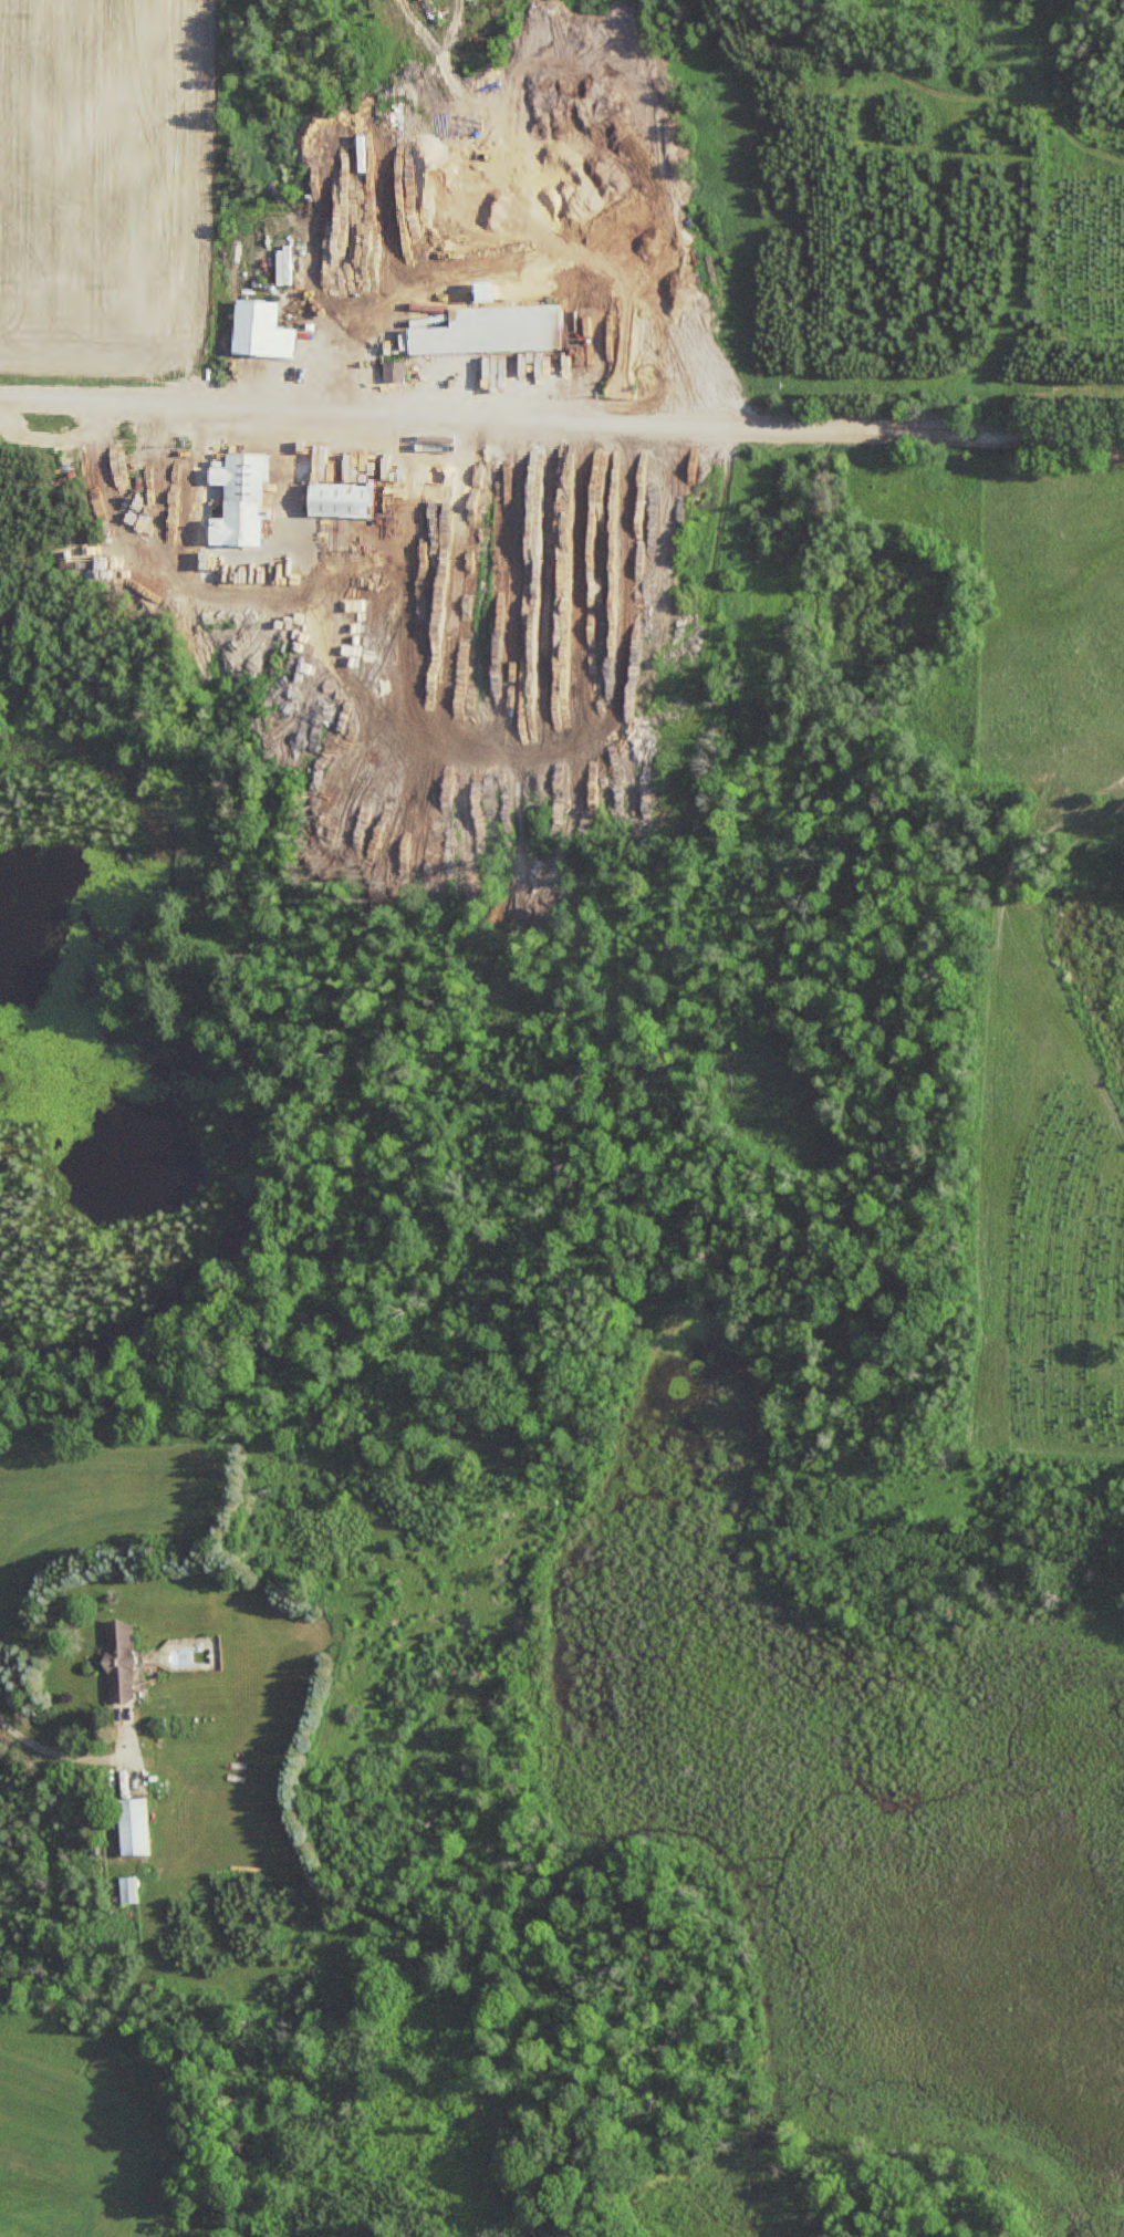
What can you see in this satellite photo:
building: (483, 293)
building: (260, 331)
building: (490, 332)
building: (394, 372)
road: (562, 423)
building: (244, 500)
building: (335, 501)
building: (118, 1659)
road: (61, 1752)
building: (133, 1825)
building: (127, 1889)

